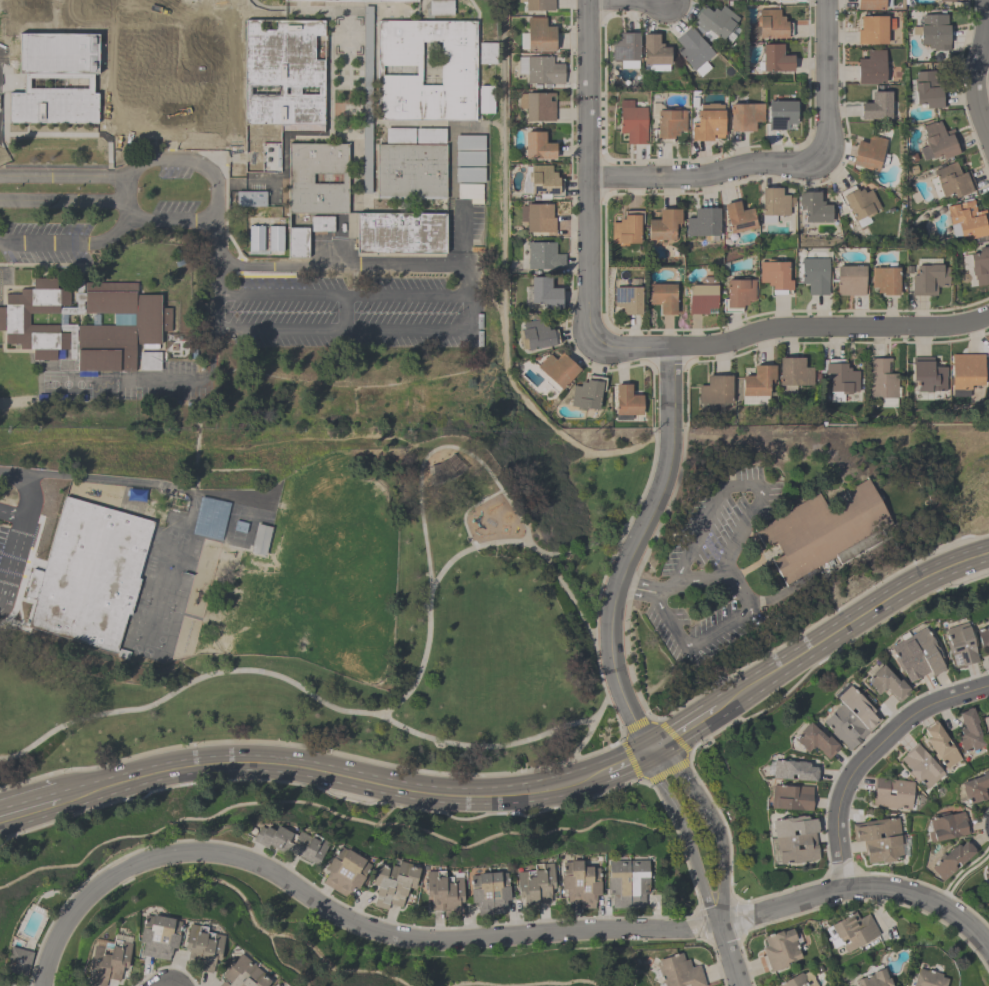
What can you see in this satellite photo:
building: (306, 0)
building: (938, 0)
building: (946, 0)
building: (783, 1)
road: (206, 2)
road: (629, 3)
building: (872, 4)
building: (538, 5)
building: (440, 7)
building: (716, 24)
building: (772, 24)
building: (872, 30)
building: (933, 31)
building: (539, 35)
building: (625, 50)
road: (196, 51)
building: (694, 51)
building: (487, 53)
building: (654, 54)
building: (775, 58)
road: (229, 67)
building: (871, 68)
road: (977, 68)
road: (187, 69)
building: (456, 70)
building: (540, 70)
building: (283, 72)
building: (55, 73)
road: (824, 79)
building: (928, 90)
building: (485, 99)
road: (192, 102)
building: (876, 105)
building: (536, 106)
building: (780, 114)
building: (744, 116)
building: (631, 121)
building: (707, 123)
building: (667, 125)
road: (177, 134)
building: (399, 135)
building: (430, 135)
building: (938, 141)
building: (468, 142)
building: (537, 146)
building: (868, 153)
building: (468, 158)
road: (190, 161)
building: (409, 171)
road: (586, 171)
building: (468, 174)
road: (705, 174)
road: (58, 176)
building: (316, 178)
building: (953, 180)
building: (544, 182)
road: (118, 189)
building: (470, 192)
building: (250, 198)
road: (353, 199)
road: (60, 202)
building: (774, 203)
building: (858, 204)
building: (813, 208)
building: (537, 217)
building: (738, 217)
building: (257, 220)
road: (200, 221)
building: (702, 222)
building: (968, 222)
building: (322, 224)
building: (663, 224)
road: (125, 225)
building: (626, 228)
building: (400, 233)
building: (255, 238)
building: (274, 238)
building: (297, 242)
road: (59, 247)
road: (465, 253)
building: (543, 256)
road: (339, 263)
building: (979, 266)
building: (814, 275)
building: (774, 276)
building: (928, 279)
building: (849, 280)
building: (884, 280)
building: (544, 292)
building: (737, 294)
building: (702, 295)
road: (279, 296)
road: (404, 296)
building: (662, 297)
building: (627, 299)
road: (343, 313)
building: (39, 324)
road: (790, 327)
road: (264, 328)
road: (423, 331)
building: (537, 334)
building: (149, 361)
building: (556, 370)
building: (794, 373)
building: (965, 373)
building: (927, 374)
building: (840, 379)
building: (882, 382)
building: (757, 384)
building: (715, 390)
building: (587, 393)
building: (626, 401)
road: (446, 449)
road: (131, 484)
road: (11, 511)
road: (17, 517)
building: (210, 518)
road: (9, 520)
road: (523, 522)
road: (741, 533)
building: (825, 534)
building: (259, 539)
road: (757, 548)
road: (630, 549)
parking lot: (13, 555)
road: (14, 558)
road: (749, 569)
parking lot: (708, 571)
building: (88, 574)
road: (700, 578)
park: (498, 588)
road: (567, 595)
road: (660, 596)
road: (848, 619)
building: (982, 636)
building: (959, 645)
building: (915, 655)
building: (885, 683)
road: (358, 714)
building: (850, 717)
road: (682, 726)
building: (986, 727)
building: (968, 732)
building: (814, 740)
building: (940, 744)
road: (582, 745)
road: (498, 748)
road: (867, 756)
road: (626, 760)
building: (921, 766)
building: (793, 770)
road: (333, 776)
road: (67, 779)
building: (975, 788)
building: (892, 793)
building: (791, 797)
road: (31, 814)
road: (712, 821)
building: (946, 827)
road: (682, 832)
building: (795, 838)
building: (878, 839)
building: (291, 843)
building: (952, 859)
building: (988, 870)
building: (343, 871)
building: (392, 883)
building: (579, 883)
building: (627, 883)
building: (534, 885)
road: (862, 890)
building: (443, 892)
building: (488, 892)
road: (341, 917)
building: (852, 931)
building: (158, 936)
building: (202, 948)
building: (779, 949)
road: (729, 951)
building: (109, 959)
building: (18, 961)
building: (678, 972)
building: (243, 974)
building: (928, 978)
building: (873, 979)
building: (799, 980)
road: (166, 985)
building: (280, 985)

